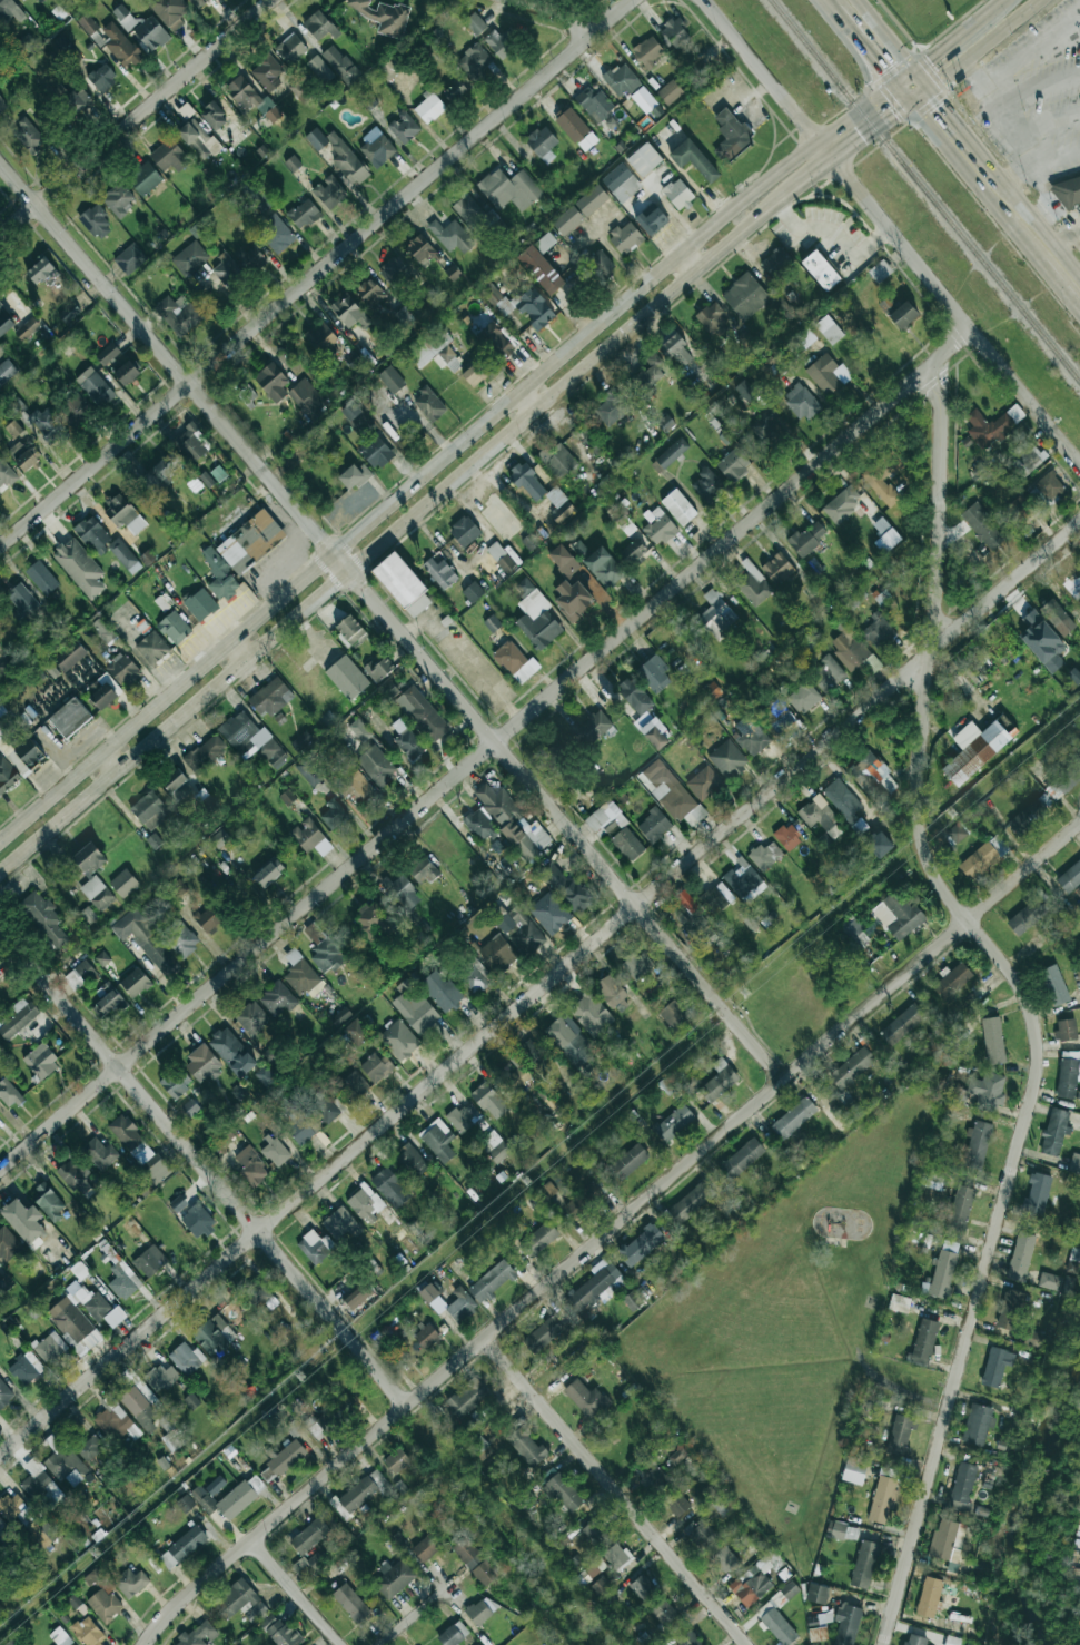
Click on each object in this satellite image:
building: (21, 0)
building: (199, 2)
road: (995, 2)
building: (8, 11)
building: (170, 11)
road: (557, 12)
building: (383, 16)
building: (123, 18)
building: (475, 23)
building: (87, 24)
building: (319, 26)
building: (150, 33)
building: (675, 33)
road: (883, 35)
road: (948, 40)
building: (497, 43)
road: (860, 43)
building: (63, 45)
building: (120, 46)
road: (979, 48)
building: (290, 49)
building: (647, 52)
road: (1030, 52)
building: (474, 61)
building: (339, 65)
building: (319, 69)
building: (387, 70)
building: (267, 72)
traffic signals: (904, 75)
building: (101, 79)
road: (769, 79)
building: (621, 80)
road: (912, 85)
building: (297, 90)
building: (455, 90)
building: (668, 92)
building: (241, 93)
traffic signals: (921, 96)
building: (76, 100)
building: (368, 102)
building: (2, 104)
building: (594, 104)
building: (429, 108)
building: (273, 115)
building: (214, 116)
road: (136, 119)
building: (404, 127)
road: (878, 128)
building: (576, 129)
road: (1013, 130)
building: (731, 135)
building: (28, 136)
building: (198, 139)
building: (316, 139)
road: (957, 141)
building: (542, 144)
building: (376, 148)
building: (169, 156)
building: (644, 159)
building: (693, 160)
building: (347, 161)
building: (293, 164)
road: (1014, 175)
building: (143, 178)
road: (804, 181)
building: (621, 183)
building: (508, 189)
building: (329, 191)
railway: (924, 191)
building: (1070, 191)
building: (677, 194)
building: (118, 198)
building: (259, 199)
building: (591, 200)
building: (303, 214)
building: (651, 219)
building: (567, 220)
building: (96, 223)
road: (1014, 225)
road: (1038, 229)
building: (275, 233)
road: (835, 235)
building: (450, 236)
building: (625, 238)
building: (544, 243)
building: (420, 249)
building: (250, 257)
building: (129, 258)
building: (189, 258)
building: (775, 262)
building: (601, 265)
building: (539, 269)
building: (820, 269)
building: (226, 270)
building: (393, 270)
building: (880, 270)
building: (40, 272)
road: (319, 273)
road: (1059, 288)
building: (371, 295)
building: (745, 296)
building: (519, 304)
building: (349, 312)
building: (898, 312)
road: (955, 312)
building: (68, 313)
building: (178, 314)
building: (712, 321)
building: (4, 322)
building: (27, 328)
building: (829, 329)
building: (356, 336)
building: (320, 337)
building: (804, 337)
building: (495, 342)
building: (433, 349)
building: (676, 349)
building: (107, 354)
building: (353, 359)
building: (6, 371)
building: (476, 372)
building: (126, 373)
building: (828, 374)
building: (647, 375)
building: (392, 380)
building: (271, 382)
building: (93, 386)
building: (745, 391)
building: (307, 398)
road: (526, 402)
building: (801, 402)
building: (16, 405)
building: (428, 405)
building: (610, 410)
building: (75, 411)
building: (350, 411)
building: (48, 425)
building: (665, 425)
building: (992, 425)
building: (13, 429)
building: (770, 430)
building: (189, 442)
building: (593, 444)
building: (376, 451)
road: (448, 453)
building: (672, 453)
building: (21, 455)
building: (556, 460)
building: (1028, 461)
building: (733, 464)
building: (7, 473)
building: (159, 473)
building: (355, 476)
building: (883, 477)
building: (527, 481)
building: (707, 485)
building: (1047, 491)
building: (842, 504)
building: (558, 505)
building: (678, 506)
building: (1019, 510)
building: (123, 514)
building: (657, 525)
building: (982, 525)
building: (464, 531)
building: (885, 532)
building: (92, 534)
road: (388, 538)
building: (807, 538)
building: (250, 542)
building: (579, 549)
building: (635, 550)
building: (123, 555)
building: (499, 556)
building: (563, 560)
building: (79, 568)
building: (603, 568)
building: (776, 568)
building: (438, 572)
building: (219, 575)
building: (41, 578)
building: (402, 584)
building: (753, 584)
building: (525, 585)
building: (473, 592)
building: (572, 600)
building: (200, 604)
building: (716, 614)
building: (1057, 617)
building: (537, 620)
road: (390, 621)
building: (492, 623)
building: (142, 626)
building: (174, 628)
building: (102, 630)
building: (349, 631)
building: (878, 631)
building: (1041, 641)
building: (849, 647)
building: (151, 648)
road: (236, 653)
building: (69, 656)
road: (464, 657)
building: (513, 662)
building: (122, 669)
building: (379, 669)
building: (653, 673)
building: (826, 673)
building: (346, 677)
building: (103, 690)
building: (388, 690)
building: (712, 691)
building: (269, 698)
building: (803, 698)
building: (1, 710)
building: (642, 712)
building: (422, 713)
building: (69, 718)
building: (776, 718)
building: (593, 729)
building: (251, 737)
building: (752, 738)
building: (301, 740)
building: (407, 740)
building: (977, 748)
road: (488, 749)
building: (20, 752)
building: (205, 753)
building: (553, 756)
building: (726, 759)
road: (108, 762)
building: (377, 766)
building: (308, 772)
building: (7, 776)
building: (872, 776)
building: (1068, 777)
building: (703, 782)
building: (176, 785)
building: (357, 789)
building: (670, 794)
building: (287, 796)
building: (844, 805)
building: (149, 810)
power tower: (950, 814)
building: (333, 815)
building: (819, 815)
building: (1028, 817)
building: (604, 819)
building: (513, 821)
building: (479, 825)
building: (653, 825)
building: (955, 834)
building: (310, 837)
building: (787, 837)
building: (219, 838)
building: (627, 844)
building: (879, 845)
building: (764, 856)
building: (983, 857)
building: (89, 859)
building: (424, 870)
building: (268, 873)
building: (1070, 877)
building: (742, 879)
building: (123, 883)
building: (831, 884)
building: (565, 886)
building: (97, 893)
building: (402, 893)
building: (683, 898)
building: (715, 898)
building: (549, 913)
building: (87, 914)
building: (896, 916)
building: (1027, 916)
building: (42, 918)
building: (209, 918)
building: (374, 920)
building: (691, 920)
building: (747, 922)
building: (314, 933)
building: (519, 933)
building: (859, 933)
building: (179, 937)
building: (146, 940)
building: (497, 954)
building: (326, 956)
building: (101, 958)
building: (636, 965)
building: (79, 975)
building: (303, 975)
building: (475, 976)
building: (0, 979)
building: (952, 982)
building: (135, 983)
building: (1053, 985)
road: (539, 988)
building: (103, 989)
building: (440, 991)
power tower: (744, 992)
building: (612, 994)
road: (1025, 997)
building: (277, 998)
building: (107, 1004)
building: (416, 1012)
building: (591, 1014)
building: (672, 1014)
building: (340, 1016)
building: (18, 1018)
building: (251, 1018)
building: (902, 1025)
building: (1066, 1030)
building: (356, 1032)
building: (398, 1041)
building: (569, 1041)
building: (992, 1041)
building: (231, 1052)
building: (534, 1052)
building: (40, 1061)
building: (202, 1064)
building: (376, 1067)
building: (851, 1067)
building: (1068, 1073)
building: (265, 1076)
building: (508, 1078)
building: (717, 1081)
building: (176, 1082)
building: (353, 1086)
building: (992, 1093)
building: (9, 1094)
building: (484, 1095)
building: (189, 1107)
building: (325, 1110)
building: (464, 1117)
building: (793, 1117)
building: (673, 1123)
building: (296, 1124)
building: (1054, 1132)
building: (437, 1140)
building: (975, 1144)
building: (495, 1147)
building: (139, 1149)
building: (275, 1152)
building: (100, 1153)
building: (742, 1158)
building: (628, 1161)
building: (410, 1162)
building: (1074, 1163)
road: (202, 1164)
building: (251, 1166)
building: (75, 1175)
building: (934, 1179)
power tower: (525, 1181)
building: (389, 1188)
building: (548, 1189)
building: (1037, 1193)
building: (48, 1200)
building: (177, 1203)
building: (581, 1203)
building: (369, 1206)
building: (960, 1209)
building: (22, 1220)
building: (197, 1221)
building: (338, 1223)
road: (608, 1228)
building: (538, 1240)
building: (8, 1245)
building: (640, 1245)
building: (315, 1247)
building: (1020, 1257)
building: (150, 1261)
building: (0, 1264)
building: (80, 1272)
building: (941, 1275)
building: (492, 1281)
building: (1049, 1281)
building: (6, 1282)
building: (123, 1282)
building: (596, 1284)
building: (1068, 1284)
building: (260, 1293)
building: (356, 1298)
building: (632, 1300)
building: (463, 1301)
building: (1009, 1309)
building: (82, 1318)
park: (792, 1326)
building: (542, 1334)
building: (214, 1336)
building: (426, 1337)
building: (1033, 1339)
building: (924, 1342)
building: (50, 1348)
building: (186, 1358)
building: (995, 1366)
building: (26, 1368)
power tower: (297, 1376)
building: (161, 1378)
building: (4, 1395)
building: (466, 1398)
building: (585, 1398)
building: (191, 1400)
building: (140, 1402)
building: (330, 1417)
building: (115, 1421)
building: (977, 1424)
building: (294, 1428)
building: (171, 1434)
building: (900, 1435)
building: (524, 1442)
building: (89, 1447)
building: (674, 1451)
building: (396, 1460)
building: (281, 1461)
building: (65, 1462)
building: (853, 1471)
building: (653, 1479)
building: (256, 1484)
building: (215, 1485)
building: (41, 1486)
building: (962, 1487)
building: (561, 1491)
building: (359, 1493)
road: (611, 1493)
building: (882, 1497)
building: (226, 1499)
building: (185, 1504)
building: (676, 1504)
building: (721, 1505)
building: (17, 1508)
building: (2, 1527)
building: (841, 1530)
building: (593, 1533)
building: (698, 1533)
building: (309, 1536)
building: (942, 1539)
building: (182, 1547)
building: (424, 1549)
power tower: (92, 1552)
building: (616, 1556)
building: (314, 1559)
building: (724, 1559)
building: (474, 1562)
building: (864, 1564)
building: (588, 1570)
building: (393, 1578)
building: (754, 1579)
building: (130, 1582)
building: (601, 1586)
building: (642, 1587)
road: (293, 1593)
building: (816, 1594)
building: (102, 1597)
building: (929, 1597)
building: (240, 1603)
building: (350, 1603)
building: (480, 1610)
building: (663, 1612)
road: (415, 1616)
building: (779, 1616)
building: (845, 1624)
building: (88, 1632)
building: (283, 1634)
building: (453, 1634)
building: (818, 1634)
building: (198, 1635)
building: (59, 1636)
building: (688, 1638)
building: (914, 1639)
building: (952, 1641)
building: (10, 1643)

